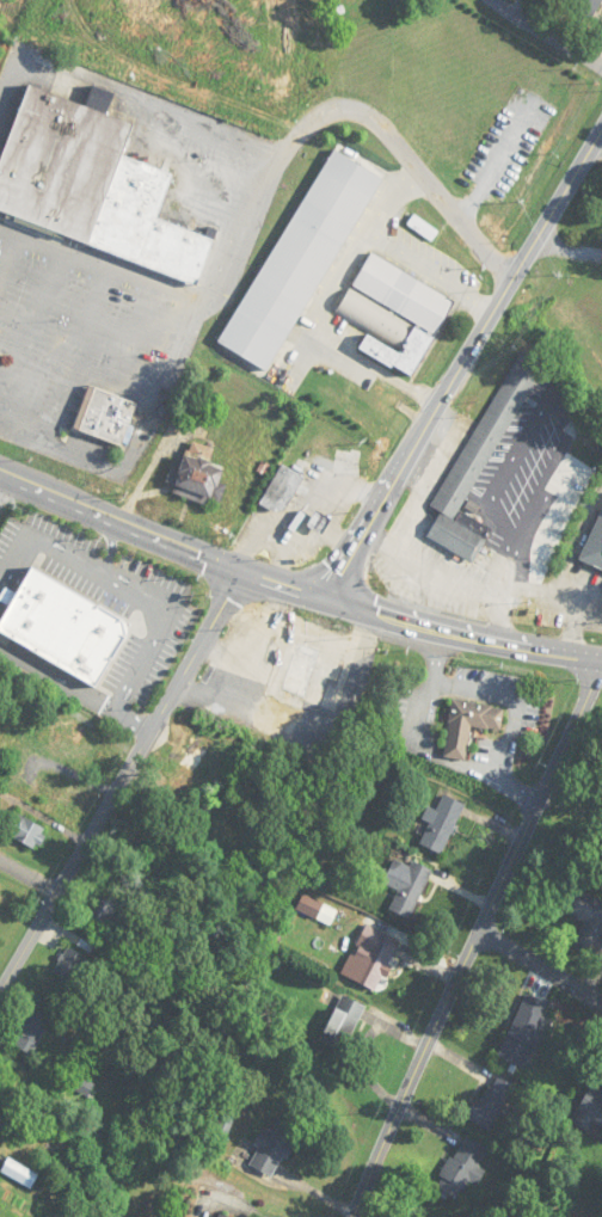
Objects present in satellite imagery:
road: (516, 5)
building: (585, 6)
road: (600, 19)
road: (548, 33)
road: (600, 60)
road: (601, 140)
parking lot: (510, 141)
road: (408, 158)
building: (67, 159)
road: (498, 161)
road: (270, 178)
road: (191, 180)
road: (388, 193)
building: (423, 228)
road: (569, 247)
road: (7, 256)
building: (302, 258)
road: (429, 269)
building: (408, 289)
road: (135, 336)
road: (321, 340)
road: (74, 356)
road: (460, 363)
road: (7, 375)
road: (92, 379)
road: (541, 414)
building: (105, 416)
road: (61, 449)
road: (426, 451)
building: (480, 462)
road: (432, 472)
building: (198, 475)
road: (2, 480)
building: (281, 490)
road: (301, 497)
road: (592, 499)
road: (530, 503)
road: (499, 514)
road: (584, 524)
road: (297, 529)
road: (161, 537)
road: (343, 537)
building: (594, 545)
road: (502, 557)
traffic signals: (241, 568)
road: (473, 586)
traffic signals: (325, 595)
road: (141, 596)
road: (494, 615)
road: (575, 623)
road: (447, 628)
building: (68, 633)
road: (586, 657)
building: (305, 660)
road: (55, 678)
building: (468, 725)
building: (72, 737)
road: (419, 750)
building: (192, 756)
road: (121, 786)
building: (53, 789)
building: (441, 824)
building: (23, 830)
road: (30, 878)
building: (405, 885)
building: (309, 906)
building: (103, 916)
building: (588, 920)
road: (475, 938)
building: (375, 960)
road: (541, 964)
building: (69, 965)
building: (343, 1022)
building: (31, 1031)
building: (524, 1031)
building: (81, 1086)
building: (491, 1101)
building: (590, 1111)
building: (4, 1114)
building: (274, 1145)
building: (462, 1169)
building: (19, 1173)
park: (566, 1213)
building: (219, 1216)

